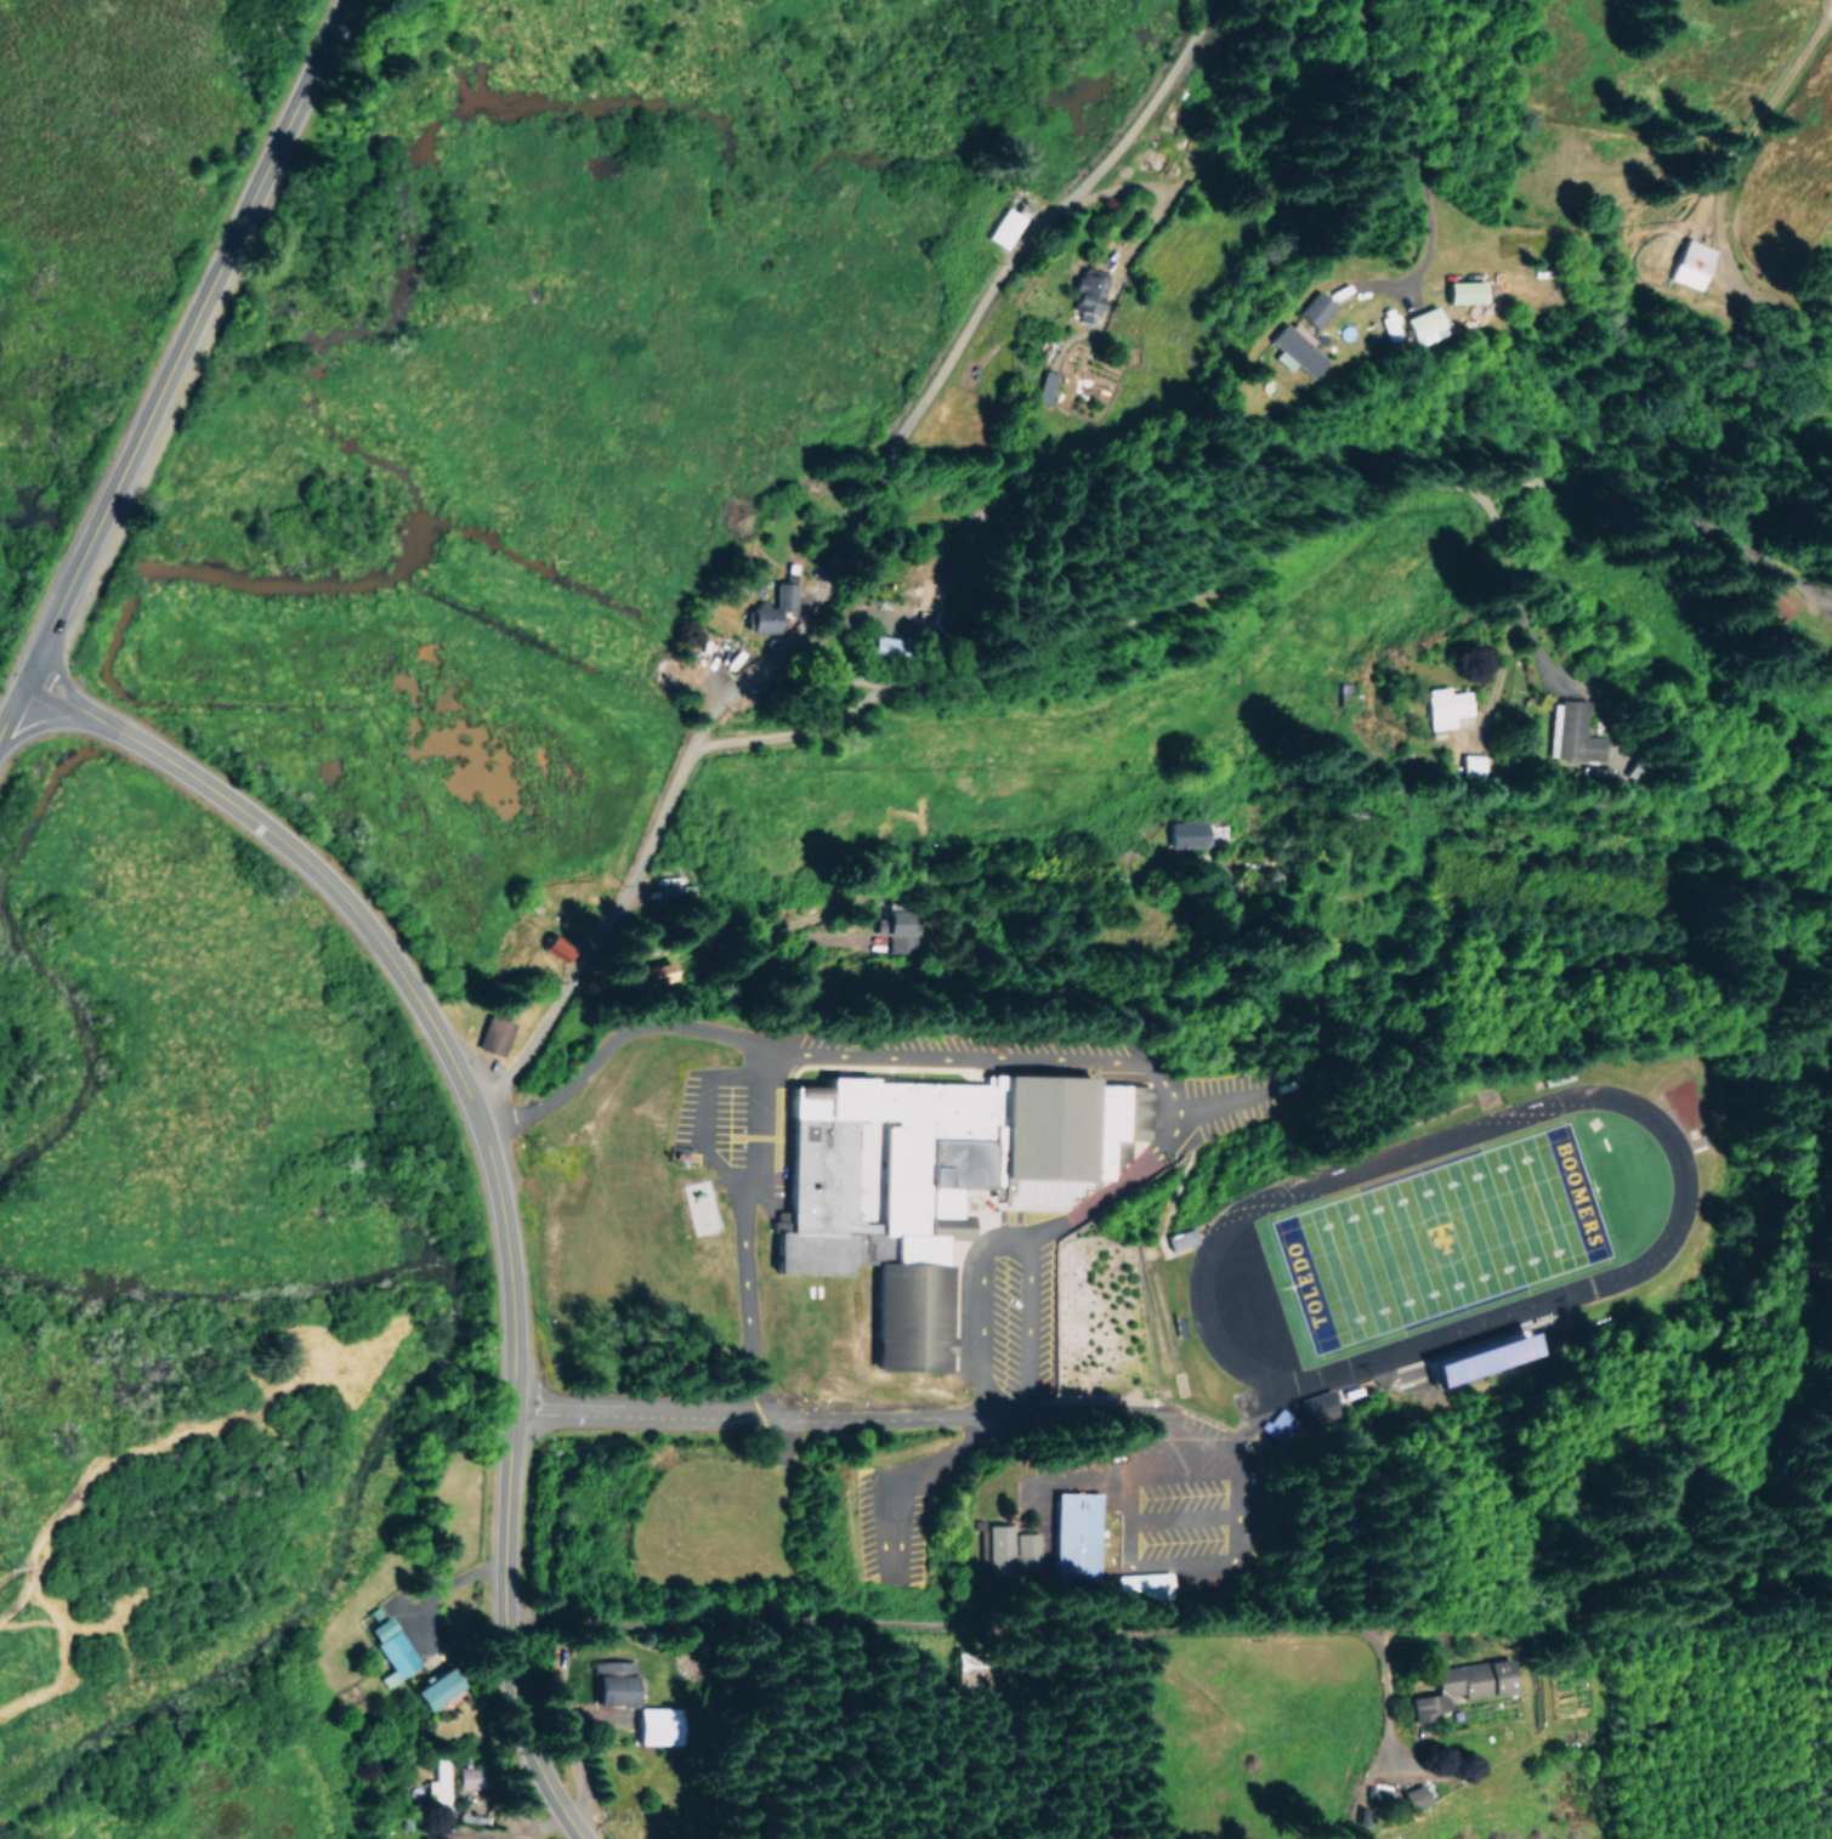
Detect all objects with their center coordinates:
road: (1501, 21)
road: (954, 147)
building: (1003, 227)
building: (1689, 262)
building: (1462, 291)
building: (1087, 294)
building: (1312, 308)
building: (1388, 323)
building: (1422, 324)
building: (1293, 350)
road: (175, 363)
building: (1040, 385)
road: (1257, 551)
road: (836, 554)
building: (1773, 598)
building: (770, 608)
building: (879, 647)
building: (1444, 705)
road: (47, 725)
building: (1573, 737)
building: (1471, 765)
building: (1185, 833)
road: (291, 848)
road: (948, 889)
building: (898, 929)
building: (555, 946)
building: (492, 1034)
road: (1027, 1056)
road: (477, 1119)
road: (728, 1180)
building: (928, 1180)
building: (1176, 1238)
track: (1647, 1248)
road: (747, 1306)
road: (980, 1322)
building: (1479, 1357)
building: (1316, 1407)
road: (843, 1417)
building: (1277, 1424)
road: (506, 1492)
building: (1072, 1534)
building: (1008, 1549)
building: (1139, 1584)
road: (937, 1629)
road: (1603, 1631)
building: (390, 1648)
building: (611, 1681)
building: (1459, 1685)
building: (435, 1687)
building: (656, 1725)
building: (437, 1786)
building: (1411, 1795)
building: (426, 1837)

